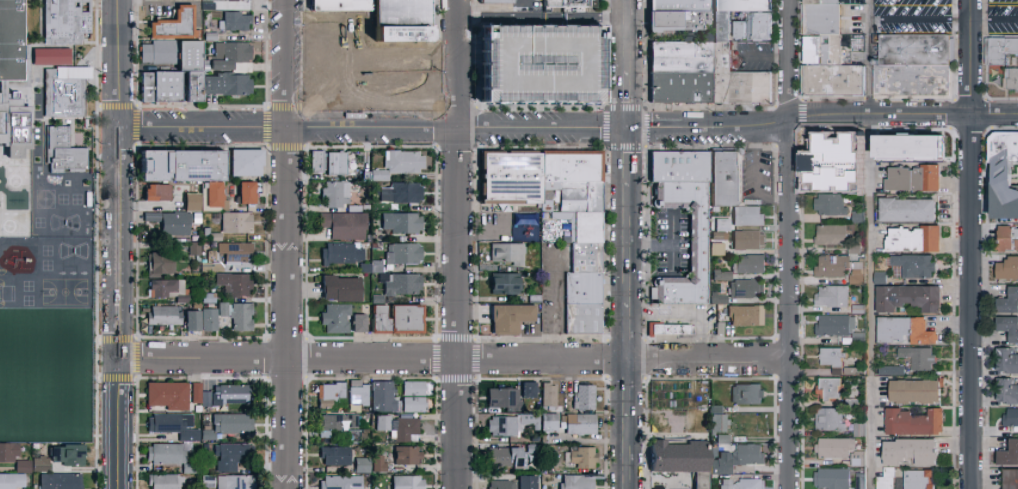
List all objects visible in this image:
building: (497, 2)
building: (568, 4)
building: (340, 5)
building: (682, 8)
building: (744, 9)
road: (541, 17)
parking lot: (911, 17)
parking lot: (1001, 17)
building: (64, 19)
building: (662, 19)
building: (234, 20)
building: (404, 21)
road: (942, 21)
building: (173, 22)
building: (825, 26)
building: (683, 27)
building: (737, 29)
building: (723, 33)
road: (627, 35)
building: (757, 36)
building: (11, 40)
building: (161, 52)
building: (915, 53)
building: (228, 54)
road: (401, 54)
building: (49, 56)
building: (825, 56)
building: (1003, 56)
building: (682, 63)
road: (457, 64)
building: (541, 64)
parking garage: (541, 64)
building: (1011, 79)
road: (364, 82)
building: (224, 83)
building: (173, 84)
building: (914, 86)
building: (739, 87)
building: (837, 87)
building: (67, 91)
building: (682, 94)
road: (628, 100)
road: (821, 116)
road: (286, 126)
road: (542, 128)
traffic signals: (629, 129)
building: (905, 147)
building: (62, 149)
road: (629, 157)
building: (246, 162)
building: (317, 162)
building: (339, 162)
building: (401, 162)
building: (177, 165)
building: (683, 165)
building: (574, 166)
building: (832, 172)
building: (731, 175)
building: (1002, 176)
road: (117, 178)
building: (912, 178)
building: (854, 183)
building: (153, 191)
building: (400, 192)
building: (211, 193)
building: (248, 193)
building: (333, 193)
building: (584, 196)
building: (189, 201)
building: (830, 205)
building: (907, 210)
building: (746, 215)
building: (857, 216)
building: (169, 222)
building: (234, 222)
building: (400, 222)
building: (343, 225)
building: (591, 227)
building: (831, 235)
building: (747, 239)
building: (912, 239)
building: (1007, 239)
road: (672, 243)
road: (286, 244)
road: (629, 244)
road: (651, 244)
road: (791, 244)
road: (870, 244)
road: (971, 244)
parking lot: (673, 245)
building: (700, 245)
building: (194, 247)
building: (235, 251)
building: (506, 252)
building: (402, 253)
building: (340, 254)
building: (589, 257)
building: (158, 263)
building: (748, 263)
building: (916, 266)
building: (831, 267)
building: (1007, 270)
building: (856, 275)
building: (233, 283)
building: (502, 283)
building: (401, 284)
building: (740, 285)
building: (339, 288)
building: (168, 289)
building: (207, 297)
building: (830, 297)
building: (715, 298)
building: (907, 298)
building: (1009, 302)
building: (586, 303)
road: (455, 308)
building: (236, 314)
building: (162, 315)
road: (557, 315)
building: (745, 315)
building: (403, 317)
building: (508, 317)
building: (340, 318)
building: (378, 318)
building: (208, 319)
building: (190, 320)
building: (836, 328)
building: (1008, 328)
building: (670, 329)
road: (629, 331)
building: (904, 331)
road: (454, 358)
building: (832, 358)
building: (919, 359)
building: (1006, 361)
building: (890, 370)
building: (412, 388)
road: (629, 388)
building: (527, 389)
building: (829, 390)
building: (915, 392)
building: (1006, 392)
building: (198, 393)
building: (230, 393)
building: (328, 393)
building: (747, 393)
building: (166, 394)
building: (357, 394)
building: (548, 394)
building: (382, 396)
building: (583, 397)
building: (503, 398)
building: (412, 403)
building: (1010, 417)
building: (527, 420)
building: (829, 420)
building: (168, 421)
building: (548, 422)
building: (717, 422)
road: (116, 423)
building: (340, 423)
building: (913, 423)
building: (579, 424)
building: (501, 425)
building: (399, 427)
building: (721, 438)
building: (7, 451)
building: (839, 451)
road: (629, 452)
building: (909, 452)
building: (65, 454)
building: (167, 454)
building: (405, 454)
building: (747, 454)
building: (1008, 454)
building: (230, 455)
building: (333, 455)
building: (506, 457)
building: (581, 457)
building: (682, 460)
building: (377, 462)
building: (39, 463)
building: (720, 463)
building: (361, 464)
building: (22, 465)
building: (831, 479)
building: (1010, 479)
building: (11, 480)
building: (885, 480)
building: (919, 480)
building: (58, 481)
building: (166, 481)
building: (207, 481)
building: (234, 481)
building: (339, 482)
building: (406, 482)
building: (525, 482)
building: (574, 482)
building: (722, 483)
building: (501, 484)
building: (747, 484)
road: (629, 487)
building: (859, 487)

